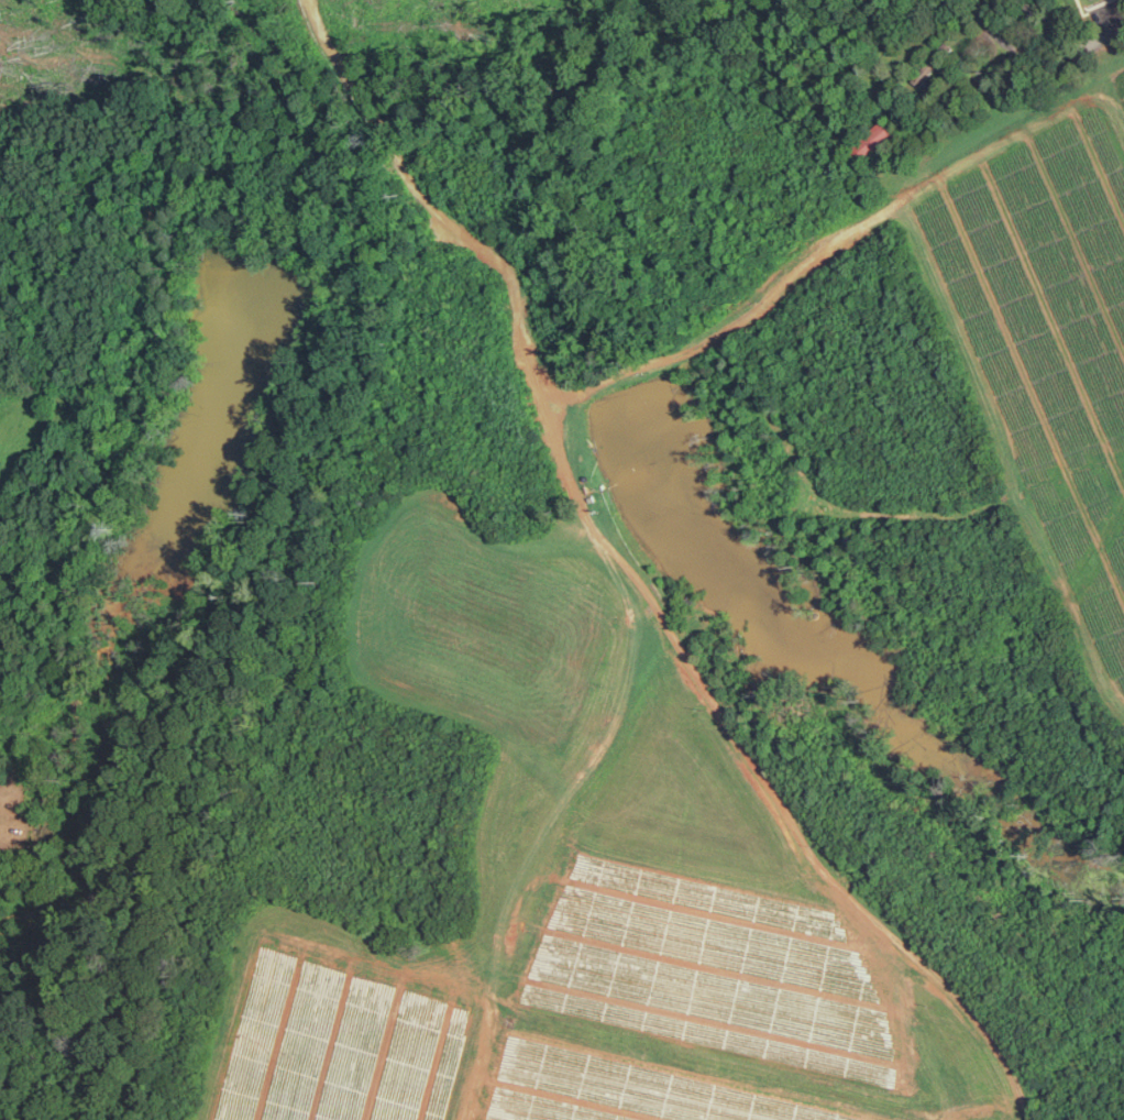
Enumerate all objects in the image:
road: (1032, 52)

